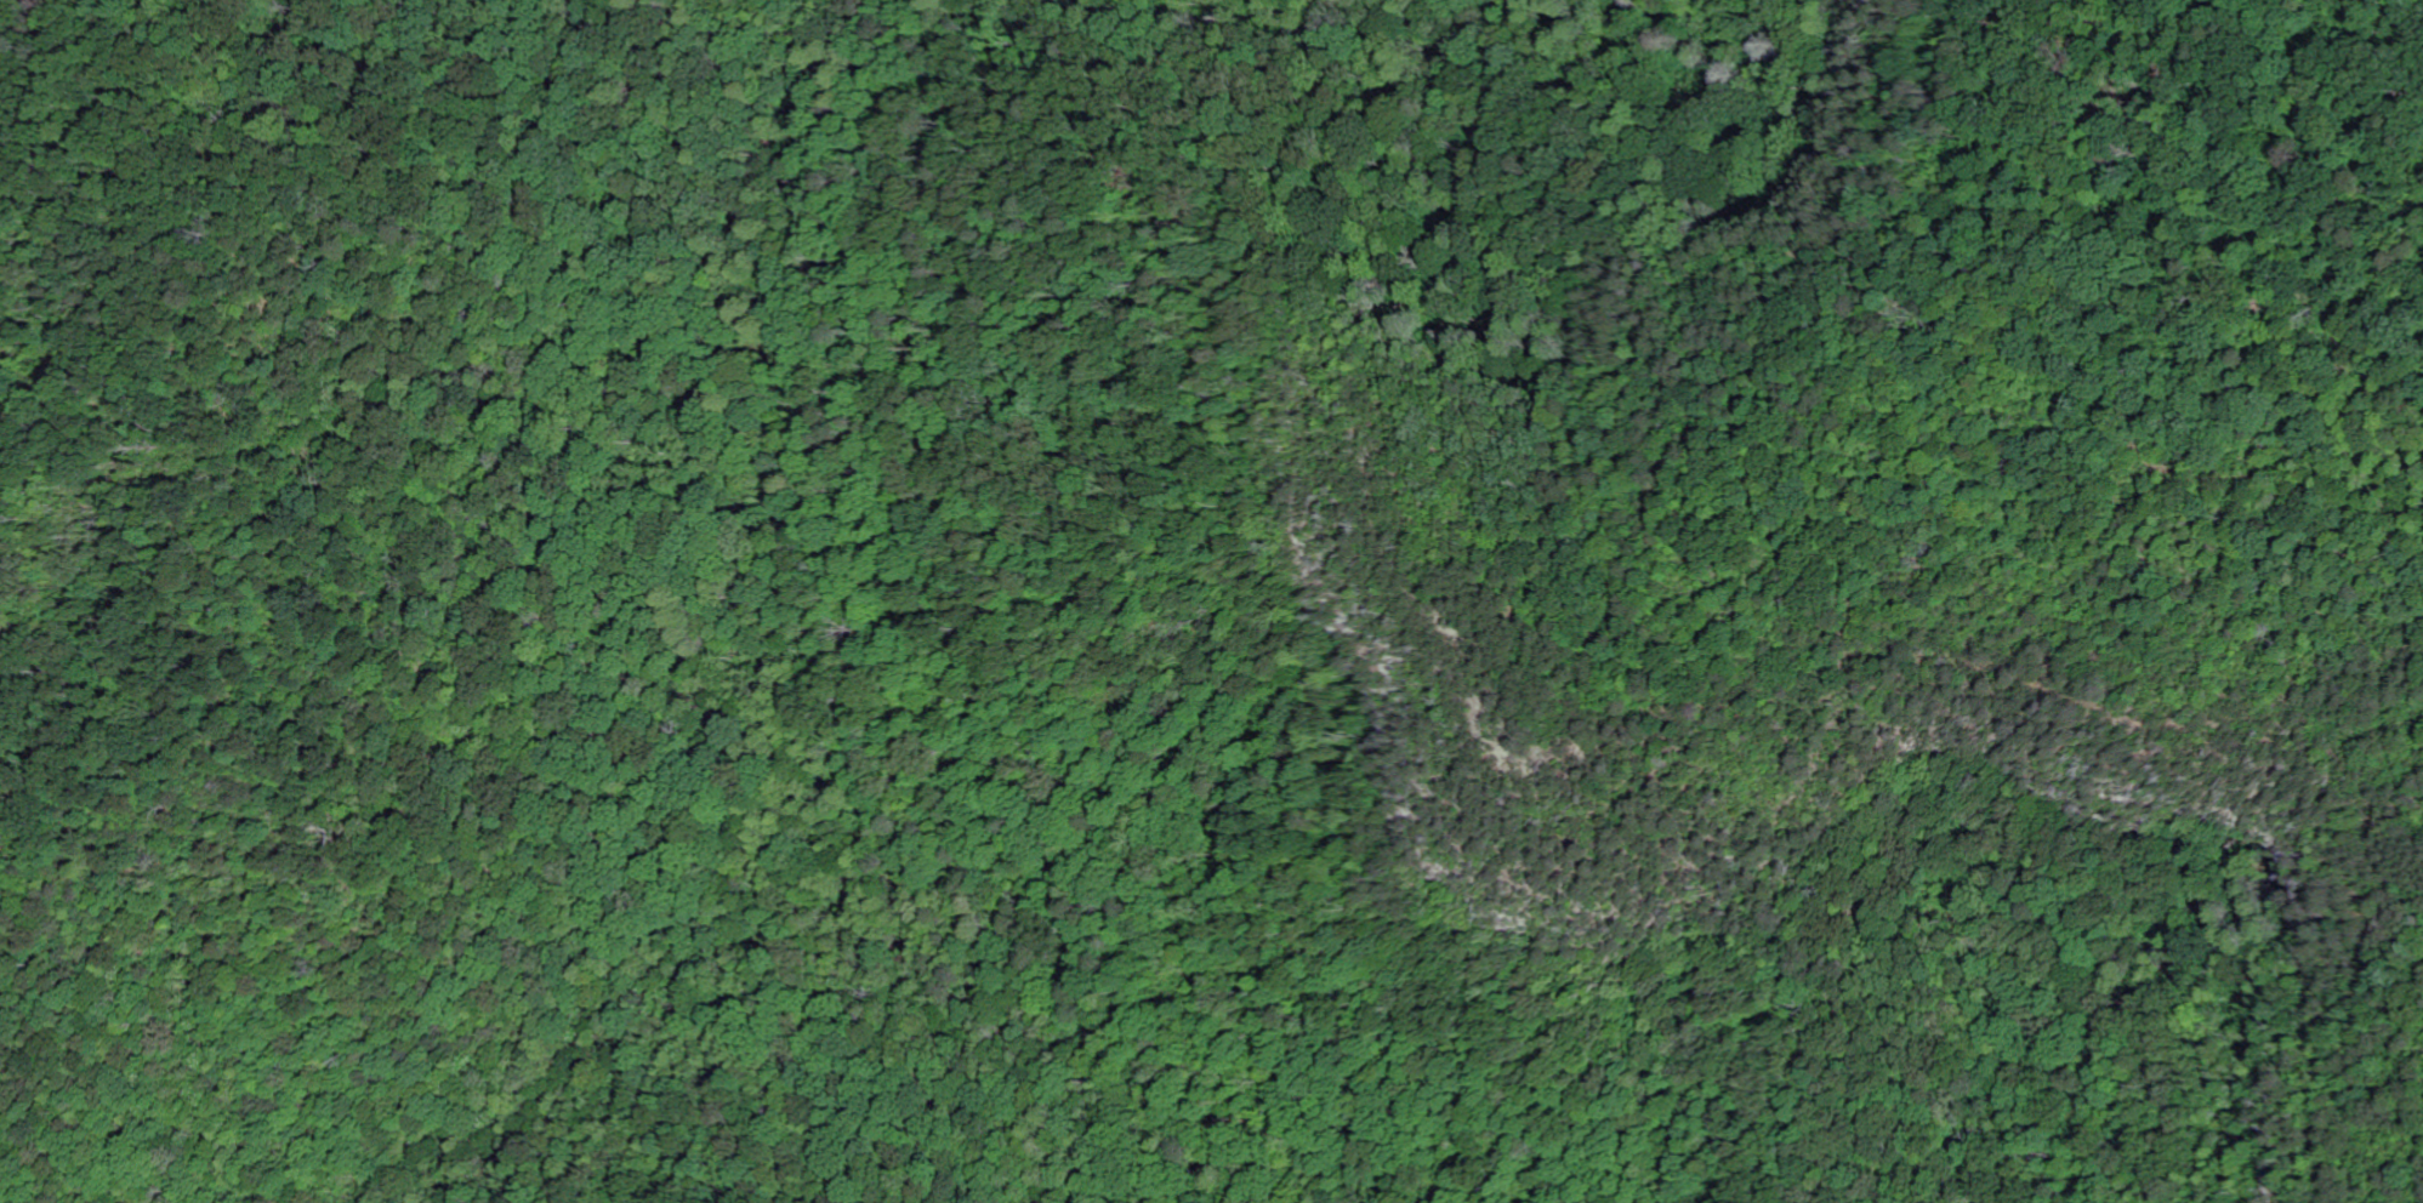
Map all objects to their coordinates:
park: (1104, 622)
river: (785, 711)

